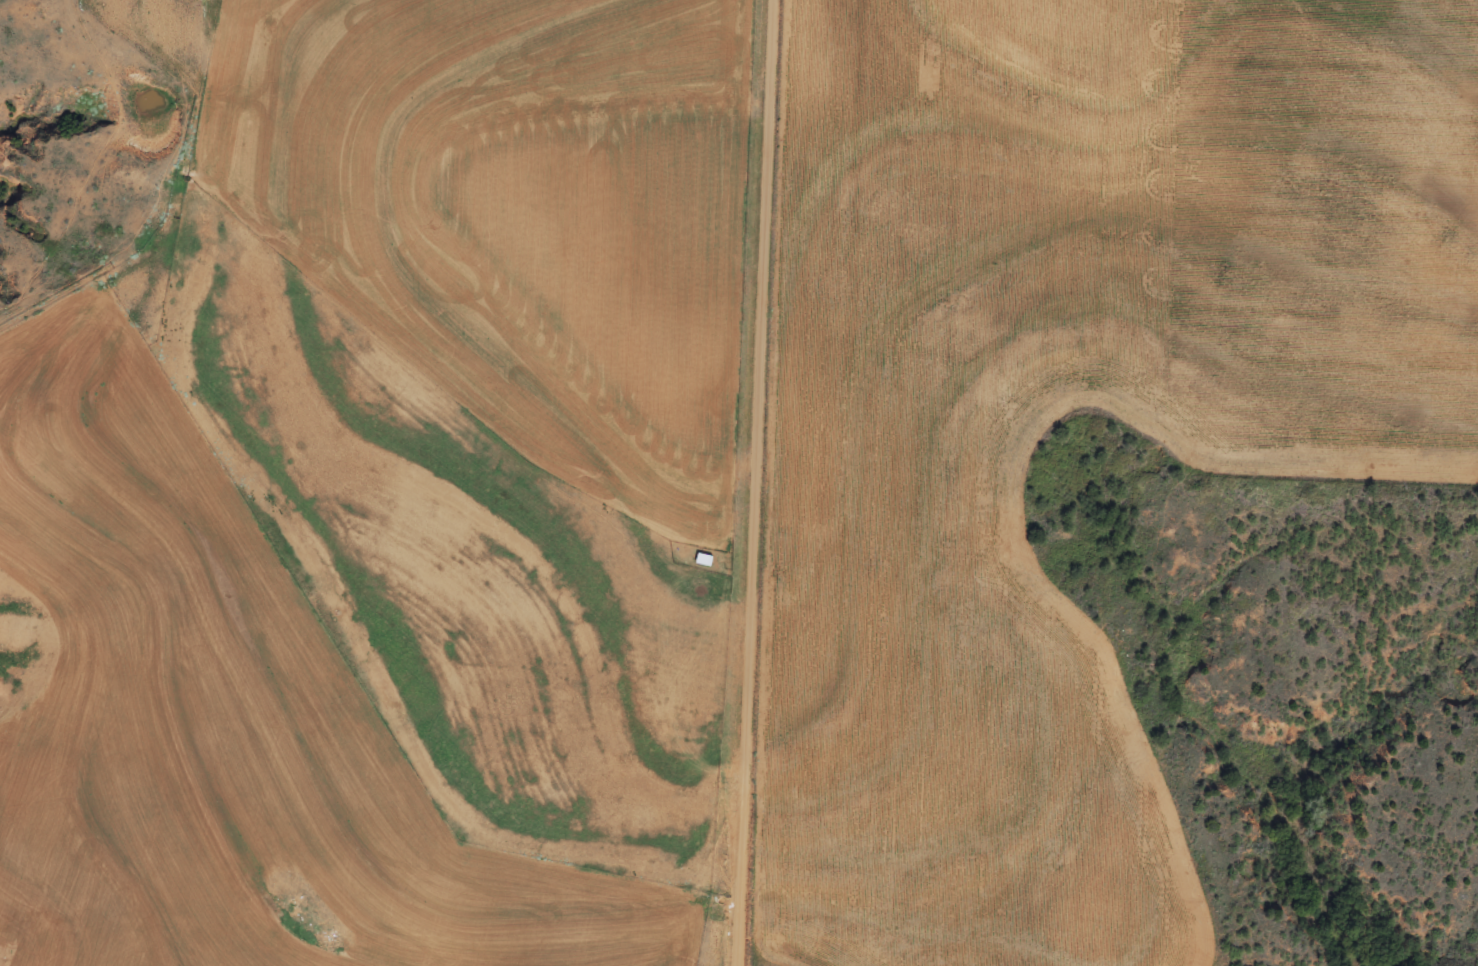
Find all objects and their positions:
road: (759, 483)
building: (702, 559)

